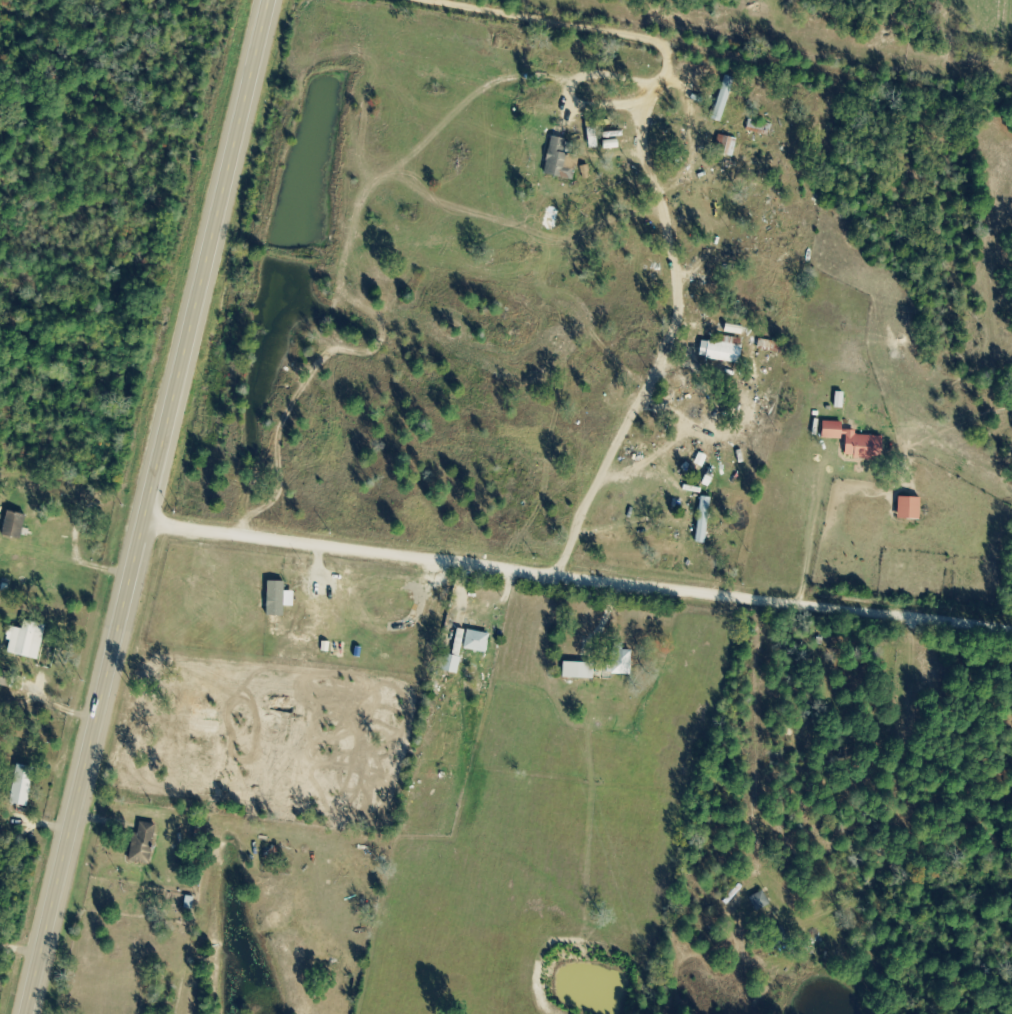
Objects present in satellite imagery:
road: (532, 20)
building: (725, 100)
building: (562, 157)
building: (723, 353)
building: (858, 443)
railway: (240, 501)
road: (148, 506)
building: (912, 510)
building: (706, 522)
building: (16, 527)
road: (813, 530)
road: (578, 574)
building: (281, 601)
building: (28, 641)
building: (468, 650)
building: (624, 663)
building: (581, 672)
building: (7, 679)
building: (25, 787)
building: (145, 843)

